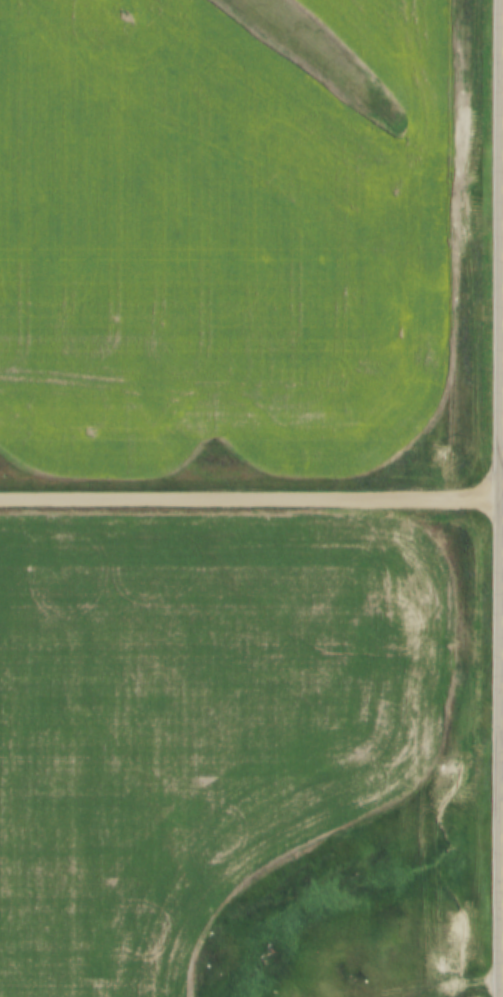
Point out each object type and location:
road: (251, 496)

